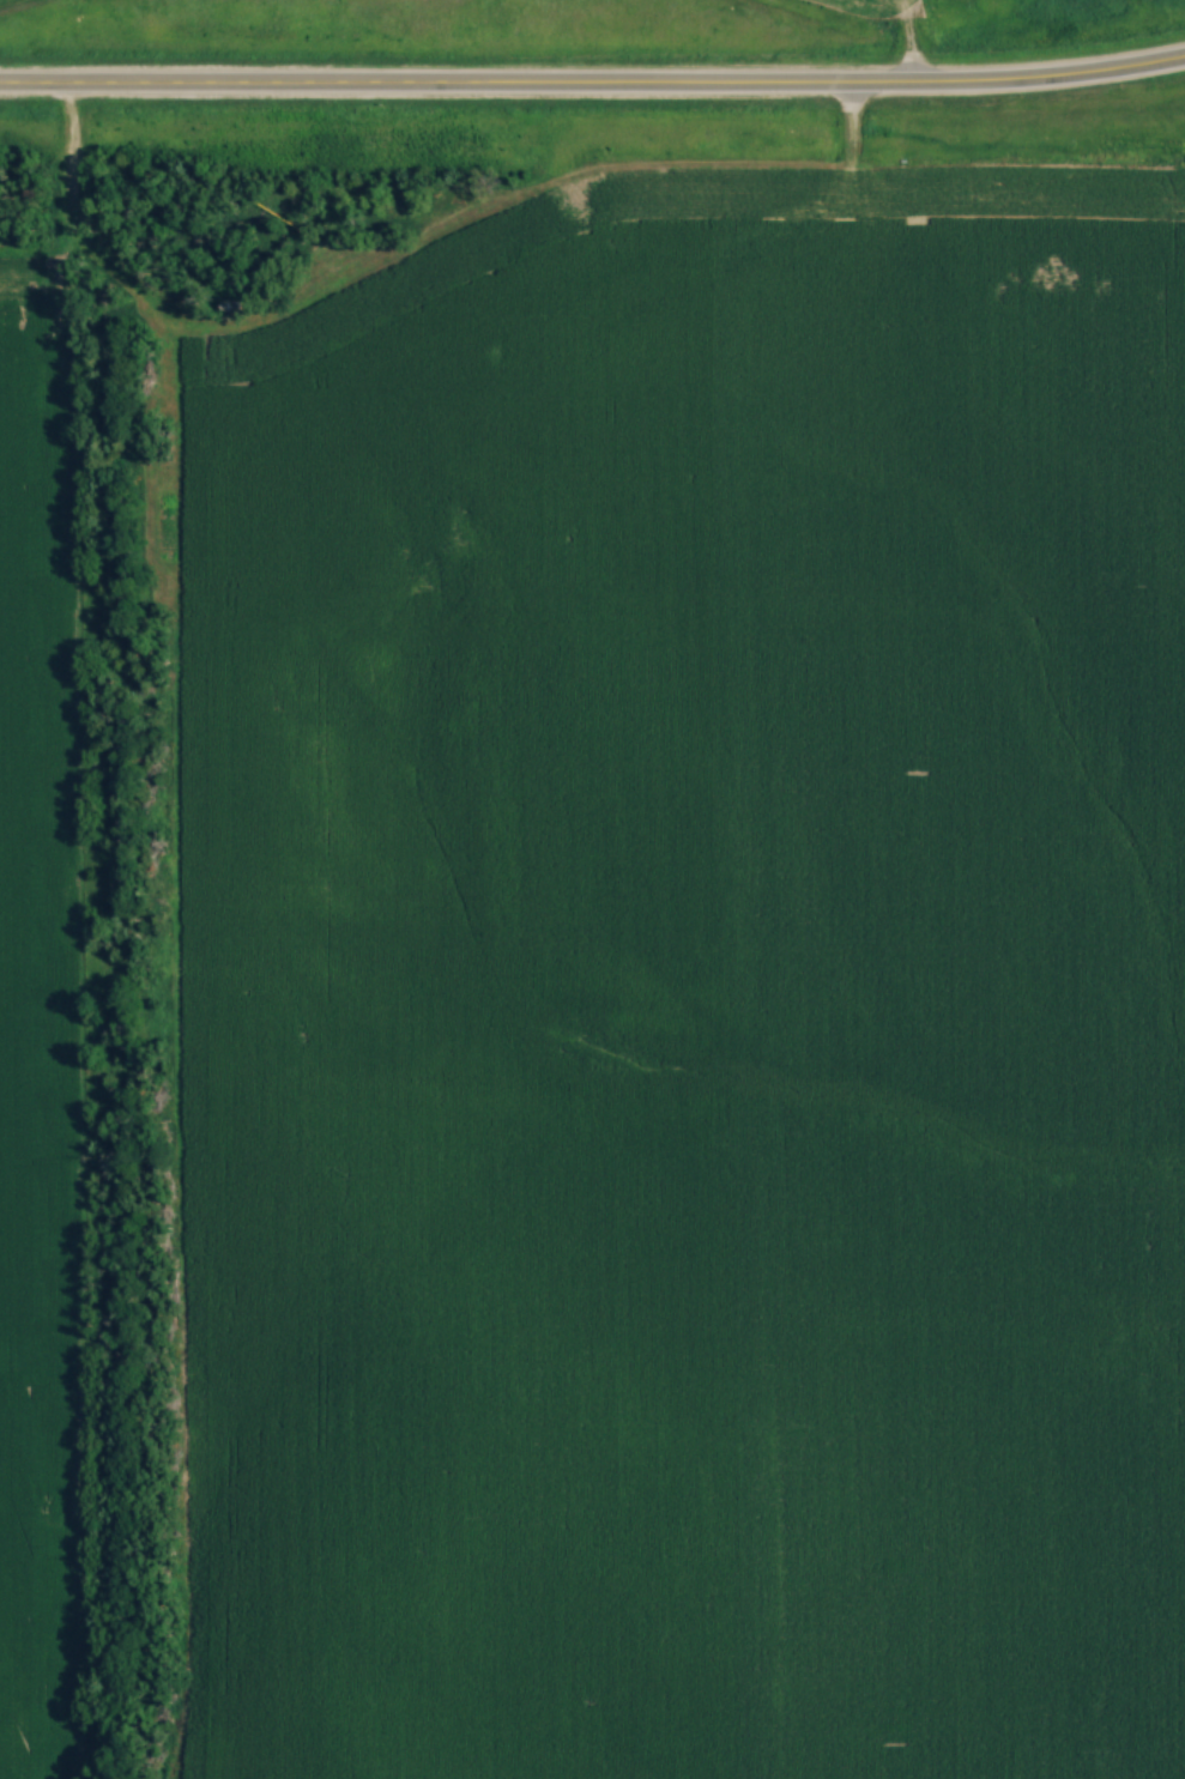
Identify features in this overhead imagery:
road: (903, 43)
road: (593, 96)
road: (677, 277)
building: (419, 313)

